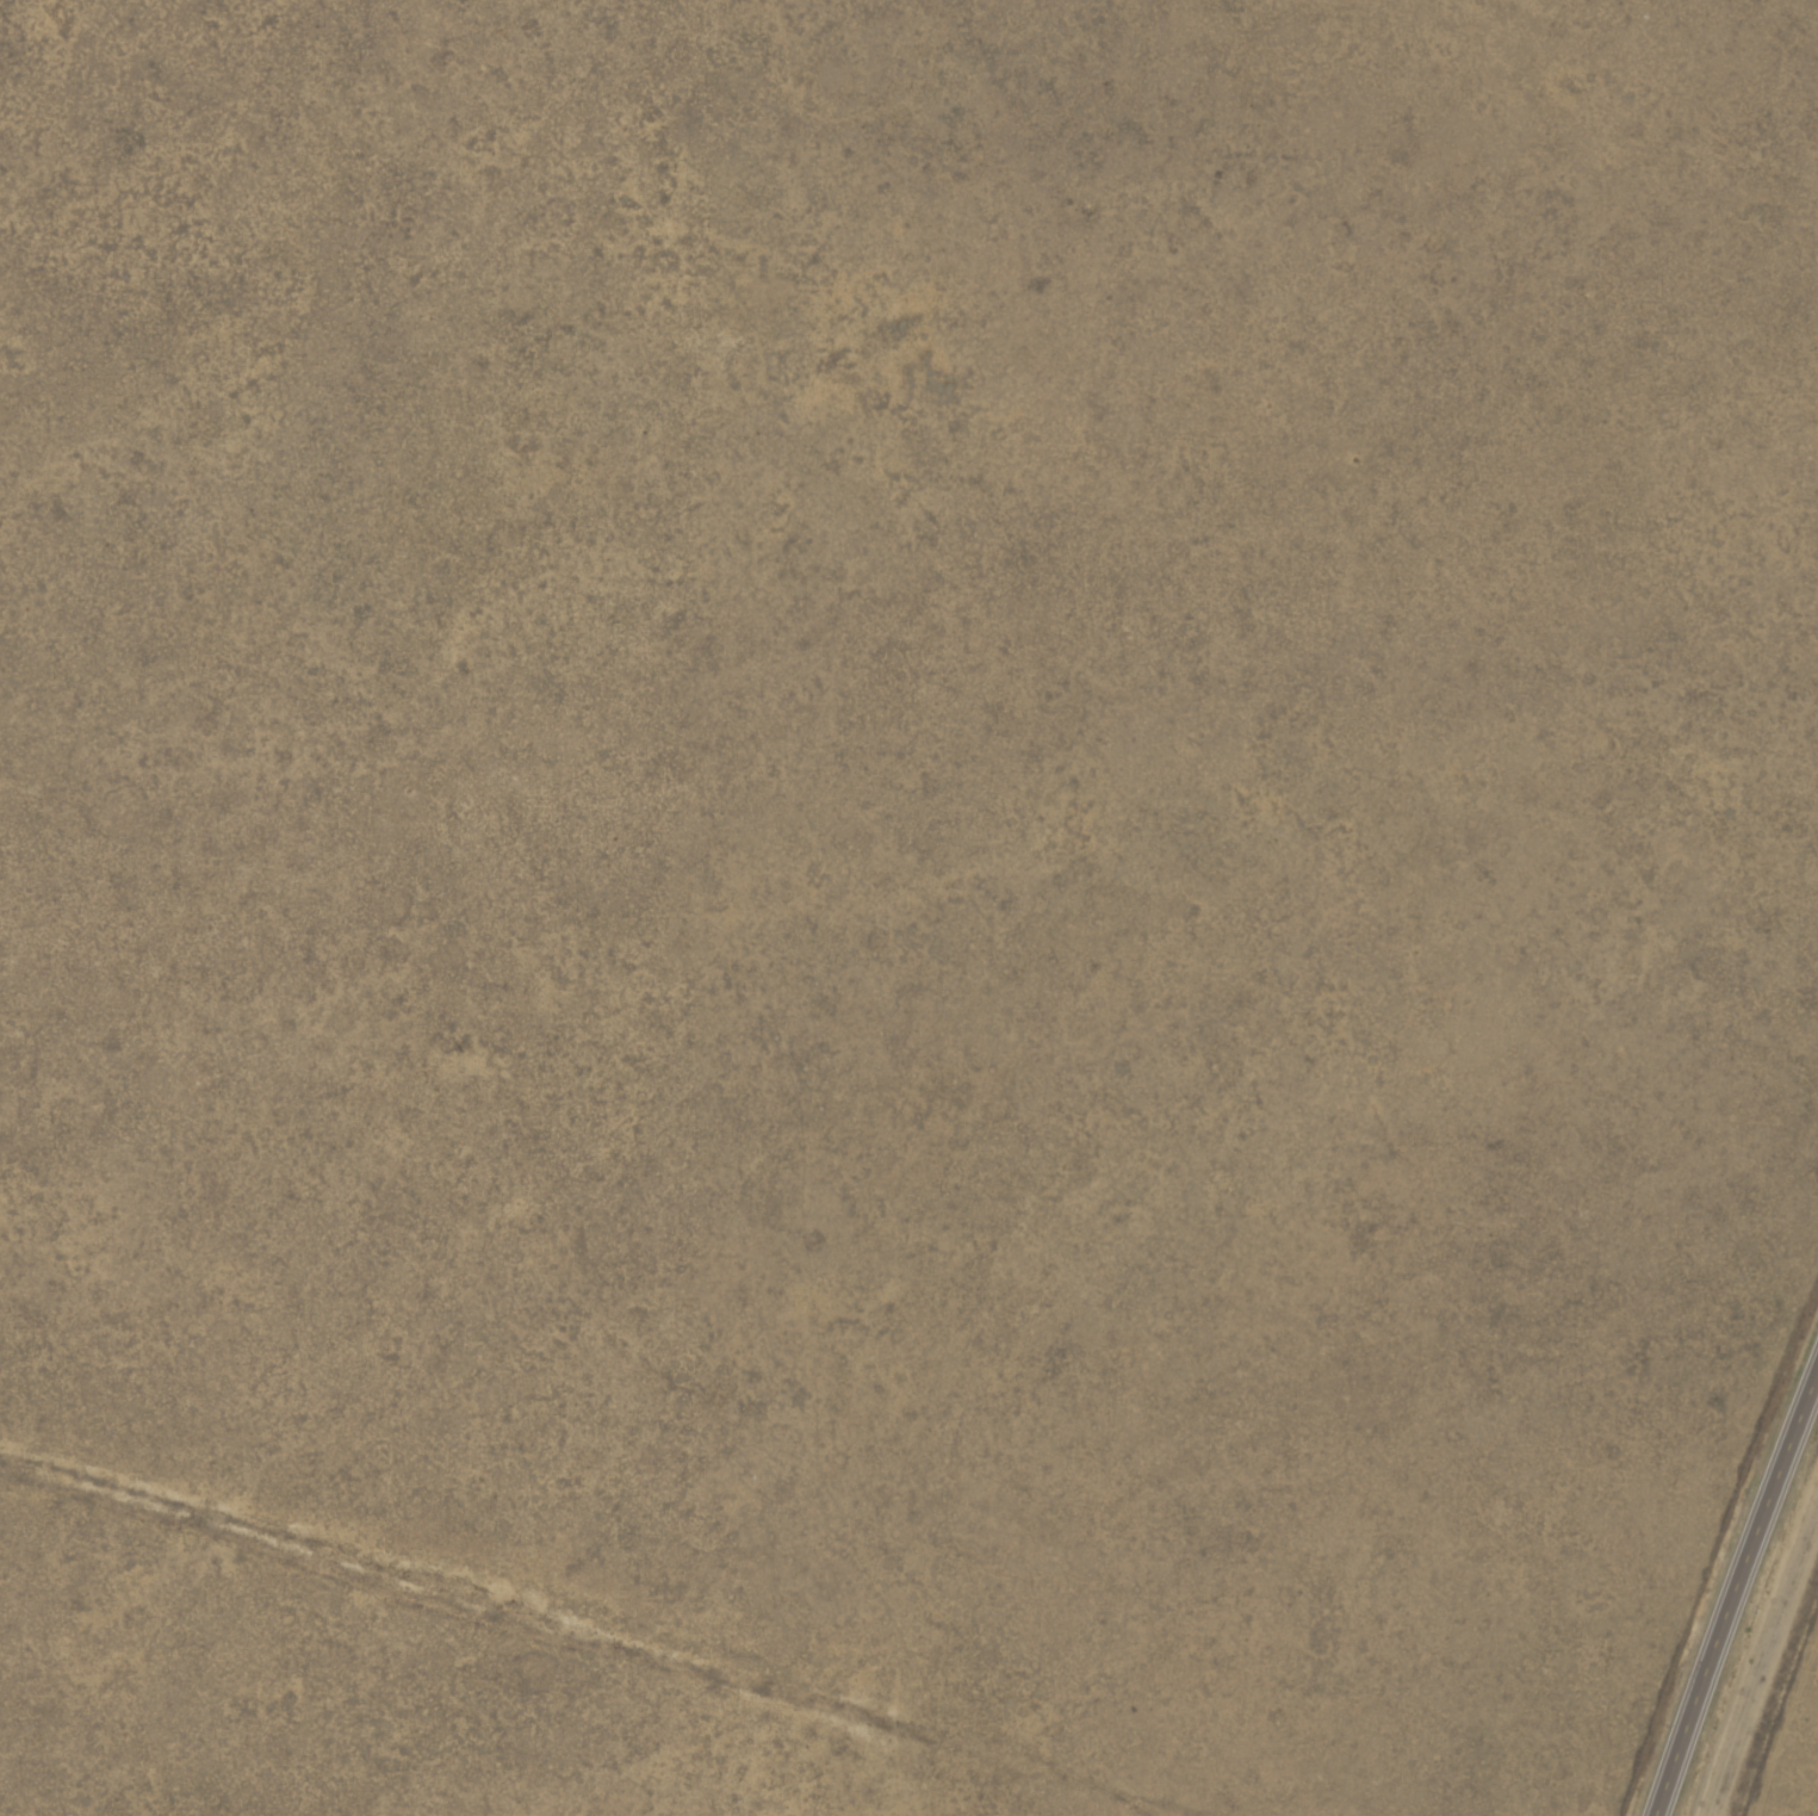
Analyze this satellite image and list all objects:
road: (1729, 1578)

